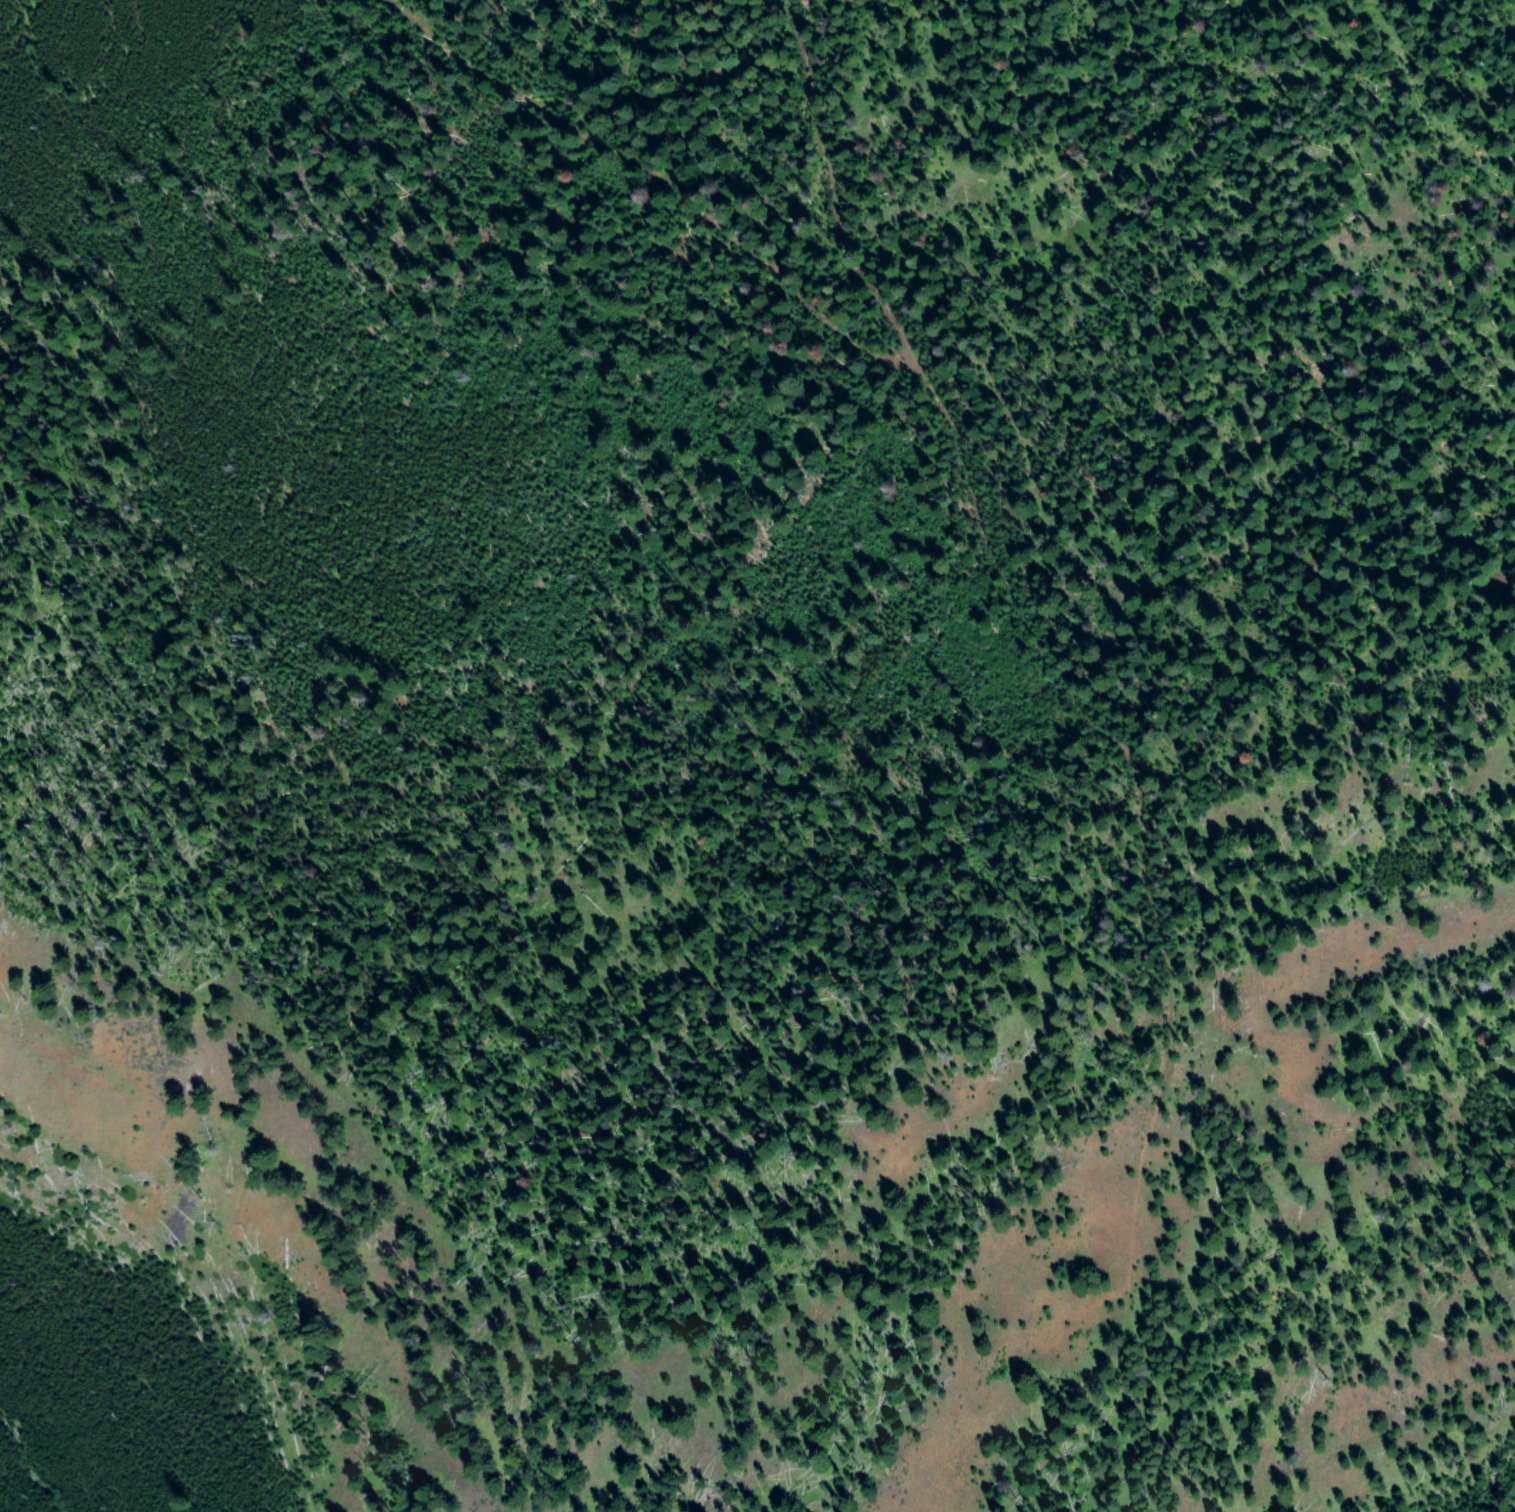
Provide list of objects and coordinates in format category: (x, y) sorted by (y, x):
road: (636, 127)
road: (1111, 719)

